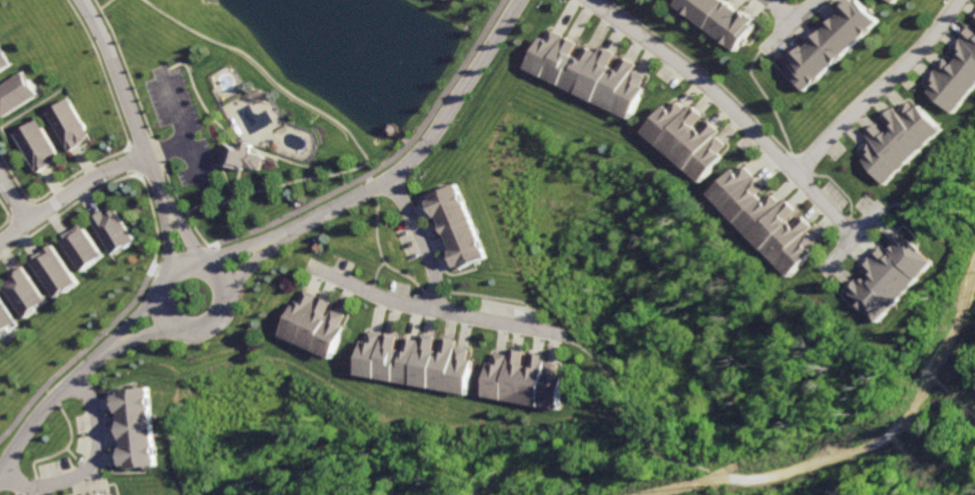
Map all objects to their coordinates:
building: (892, 1)
road: (108, 4)
road: (773, 7)
road: (777, 9)
building: (717, 19)
building: (972, 19)
road: (787, 23)
building: (828, 42)
building: (3, 58)
road: (165, 68)
building: (954, 68)
building: (581, 69)
road: (701, 70)
road: (103, 71)
road: (268, 76)
parking lot: (664, 79)
road: (876, 87)
road: (448, 90)
building: (14, 91)
road: (124, 97)
road: (201, 97)
road: (766, 98)
road: (726, 106)
building: (65, 123)
road: (148, 124)
road: (179, 124)
building: (681, 137)
building: (899, 139)
building: (32, 144)
road: (164, 147)
road: (427, 148)
building: (241, 155)
road: (132, 160)
road: (296, 162)
road: (798, 164)
road: (206, 169)
road: (75, 170)
road: (371, 176)
road: (287, 182)
road: (11, 183)
road: (375, 187)
road: (839, 187)
road: (68, 190)
parking lot: (833, 193)
road: (13, 200)
road: (220, 201)
road: (933, 205)
road: (64, 206)
parking lot: (865, 206)
road: (15, 209)
road: (2, 213)
building: (759, 215)
road: (148, 218)
road: (2, 220)
road: (268, 222)
building: (462, 225)
road: (851, 225)
building: (108, 229)
road: (179, 229)
road: (852, 232)
road: (162, 233)
road: (421, 242)
building: (79, 247)
road: (238, 248)
road: (293, 252)
road: (379, 254)
parking lot: (340, 265)
road: (252, 267)
building: (51, 271)
building: (888, 273)
road: (373, 275)
parking lot: (396, 290)
building: (22, 291)
road: (432, 291)
road: (490, 296)
road: (434, 308)
parking lot: (508, 310)
road: (530, 316)
building: (5, 321)
road: (214, 322)
building: (310, 322)
road: (124, 323)
road: (132, 340)
road: (78, 350)
building: (412, 361)
building: (522, 379)
road: (40, 387)
road: (47, 396)
road: (42, 400)
road: (630, 412)
building: (133, 426)
parking lot: (80, 437)
road: (55, 449)
road: (71, 459)
road: (89, 463)
parking lot: (52, 470)
building: (96, 493)
building: (108, 494)
building: (110, 494)

